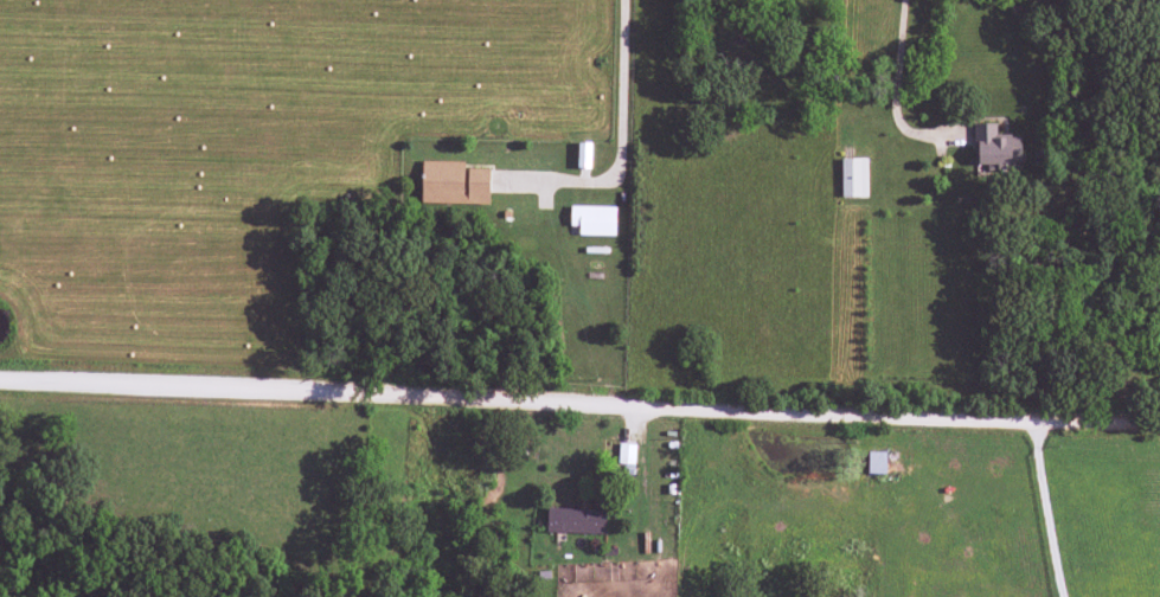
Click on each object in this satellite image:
building: (995, 147)
building: (583, 155)
building: (853, 178)
building: (454, 184)
road: (579, 404)
building: (626, 454)
building: (876, 462)
road: (1044, 509)
building: (576, 521)

